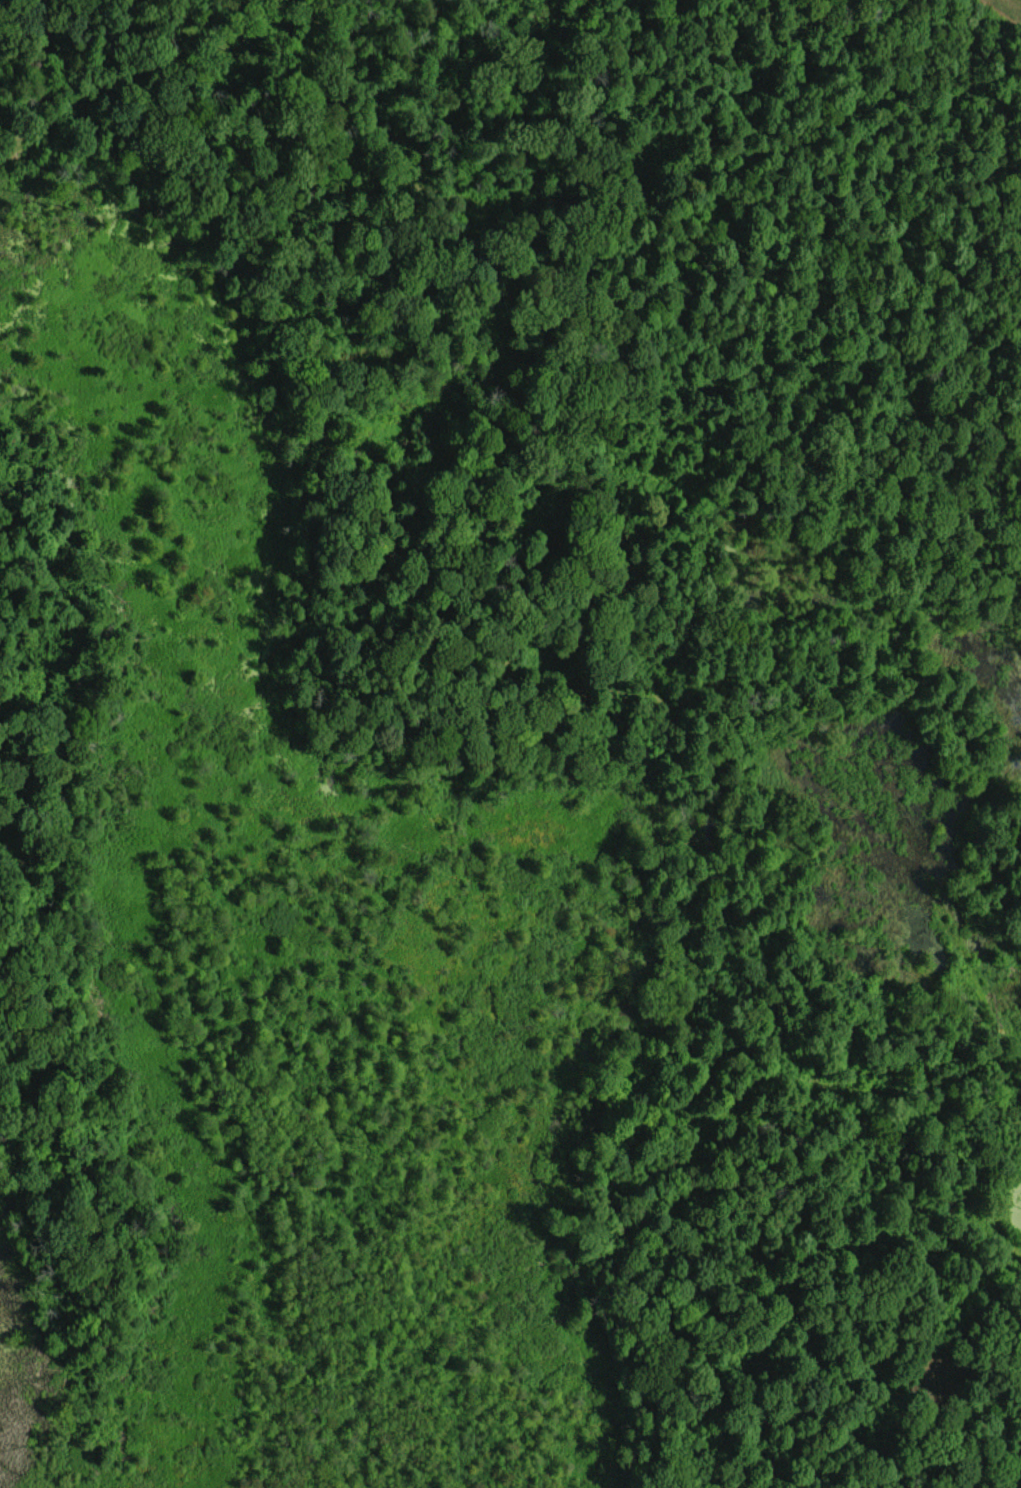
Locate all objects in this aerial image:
road: (948, 1403)

